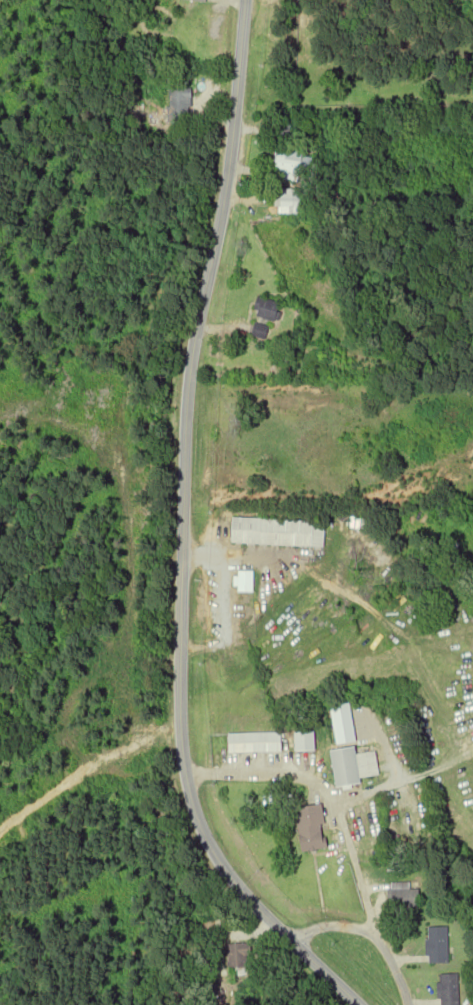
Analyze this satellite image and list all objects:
building: (201, 0)
building: (181, 103)
building: (293, 166)
building: (341, 200)
building: (295, 202)
building: (268, 317)
road: (192, 361)
building: (280, 531)
building: (246, 587)
building: (256, 741)
building: (354, 765)
road: (330, 793)
building: (312, 827)
road: (234, 885)
building: (405, 895)
road: (369, 933)
building: (438, 944)
building: (239, 955)
building: (450, 989)
building: (192, 998)

